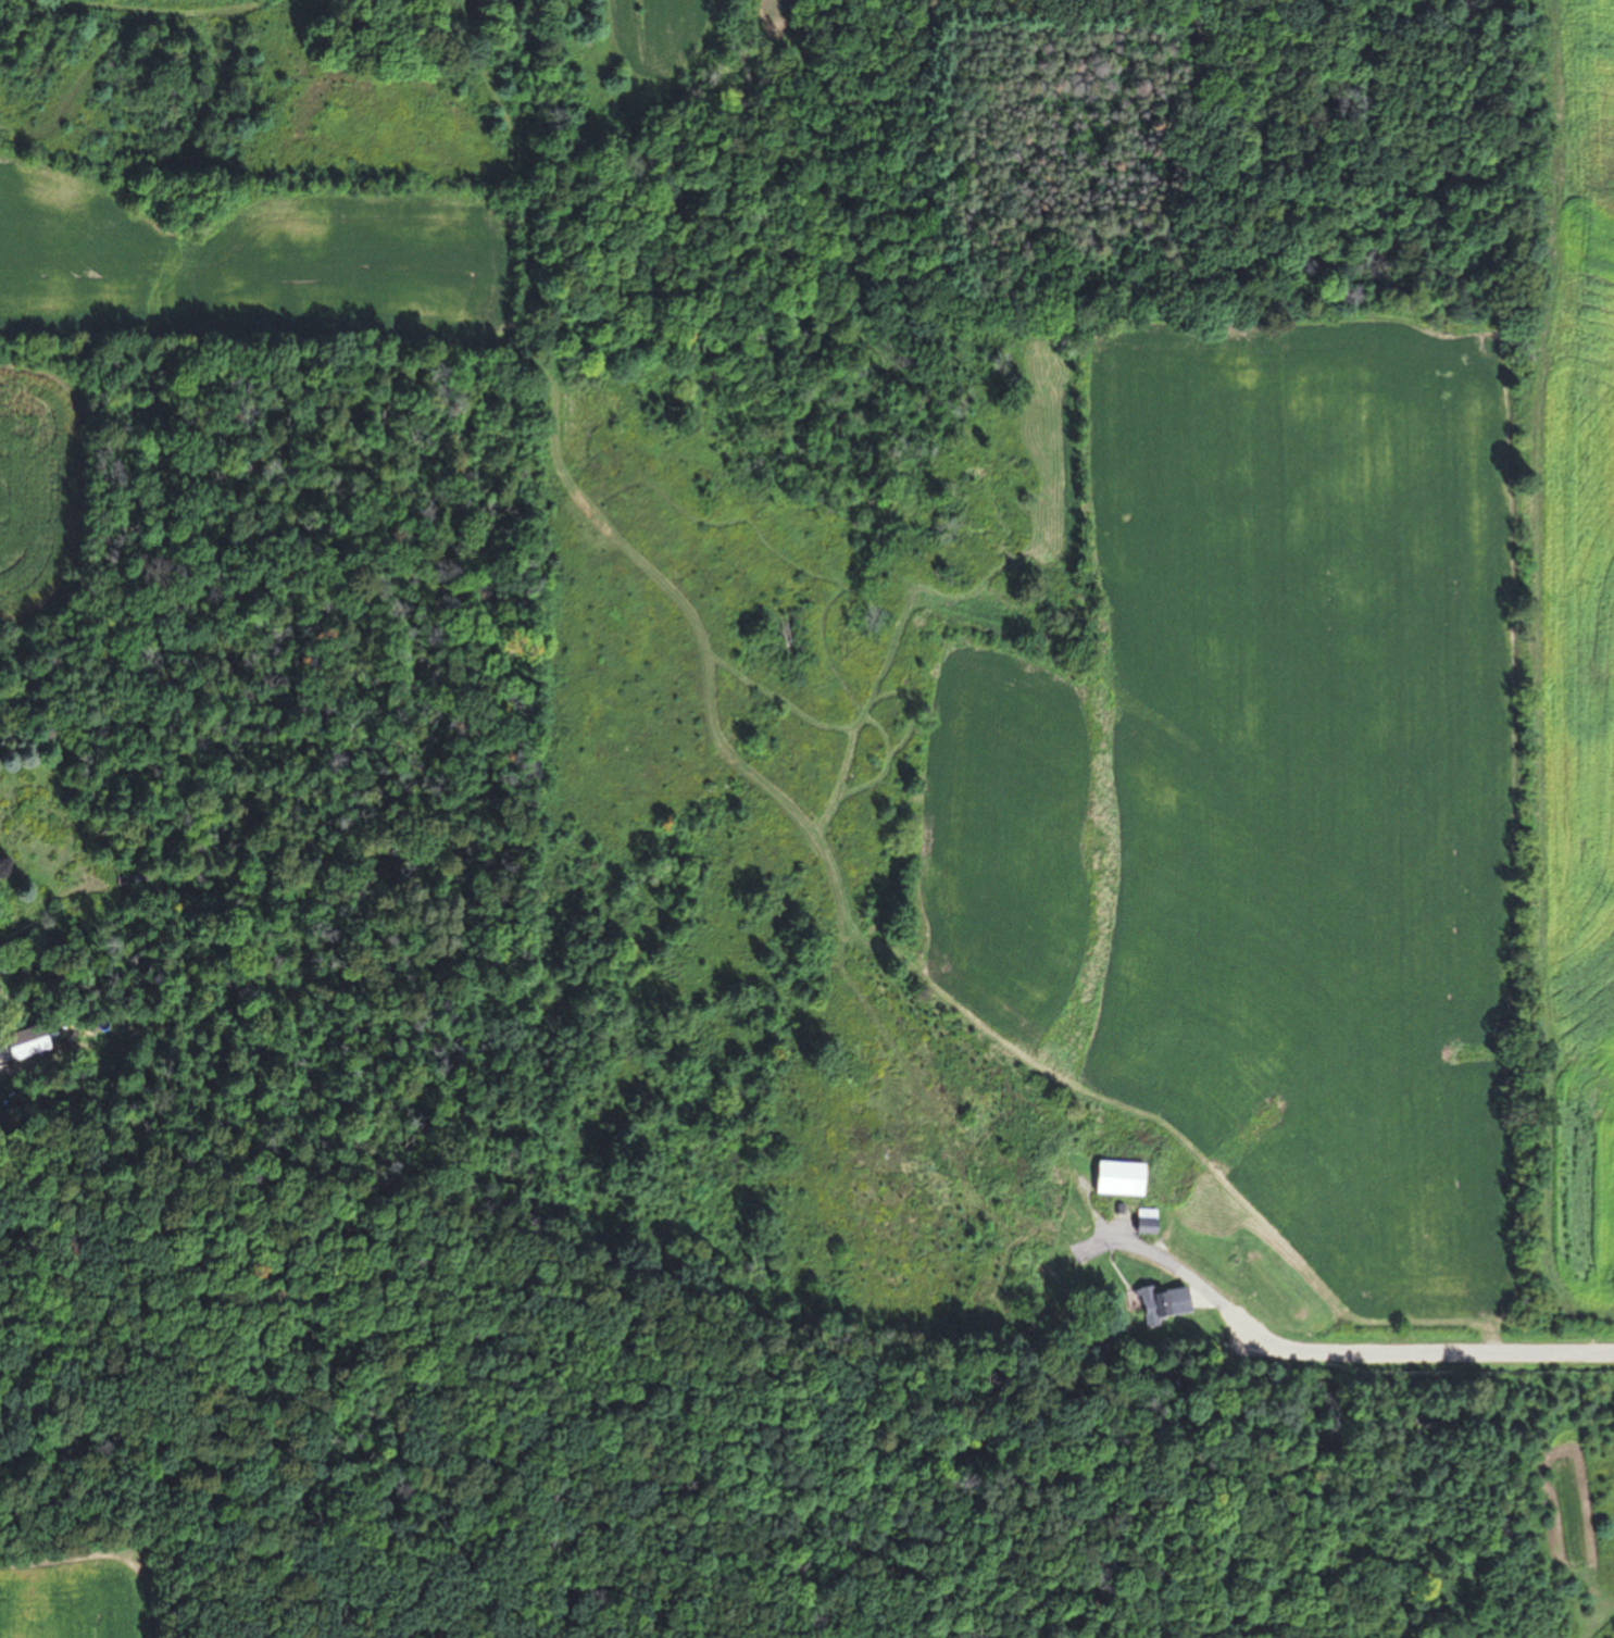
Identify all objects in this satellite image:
building: (1115, 1178)
building: (1142, 1221)
road: (1434, 1352)

